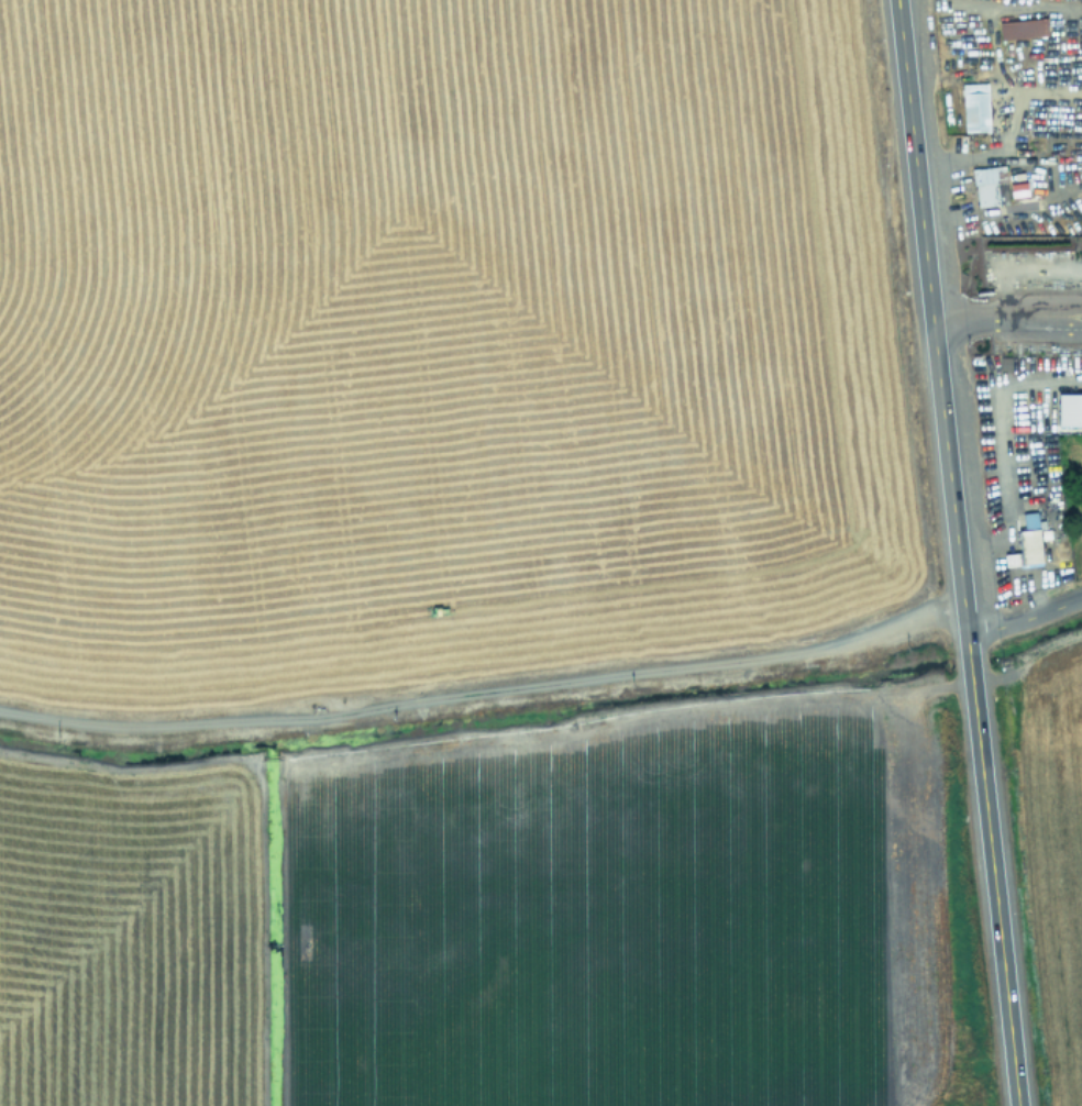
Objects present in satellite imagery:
building: (1023, 27)
building: (975, 107)
building: (990, 185)
road: (1005, 314)
road: (1009, 376)
building: (1069, 409)
building: (1029, 519)
building: (1029, 545)
road: (956, 553)
building: (1011, 558)
crop: (433, 565)
road: (1024, 618)
crop: (1064, 818)

